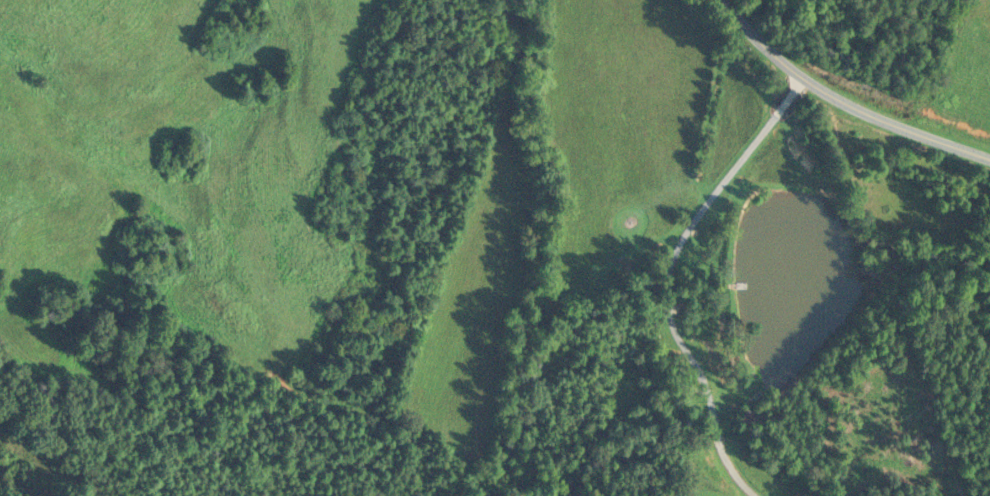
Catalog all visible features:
road: (843, 96)
road: (668, 274)
road: (904, 475)

